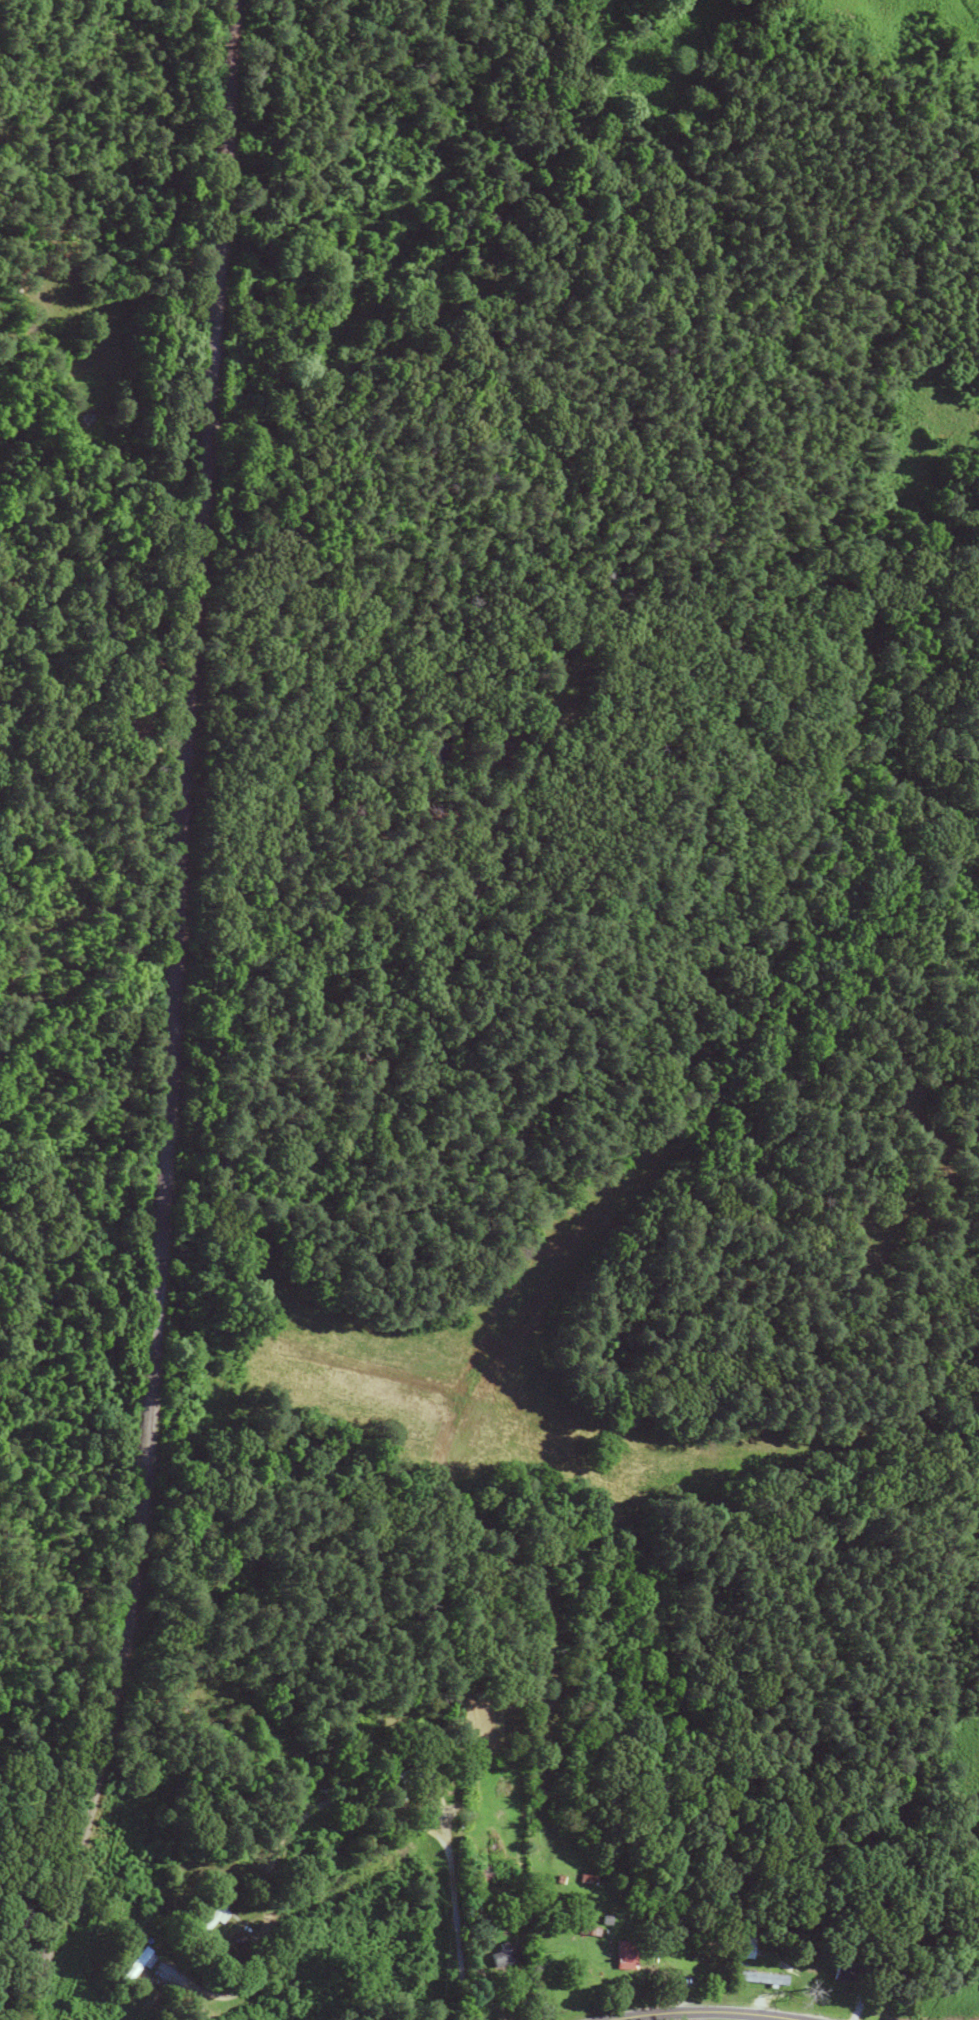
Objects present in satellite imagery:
railway: (168, 1015)
building: (420, 1771)
road: (456, 1913)
building: (621, 1955)
building: (502, 1956)
building: (137, 1967)
building: (836, 1973)
building: (758, 1978)
road: (707, 2011)

